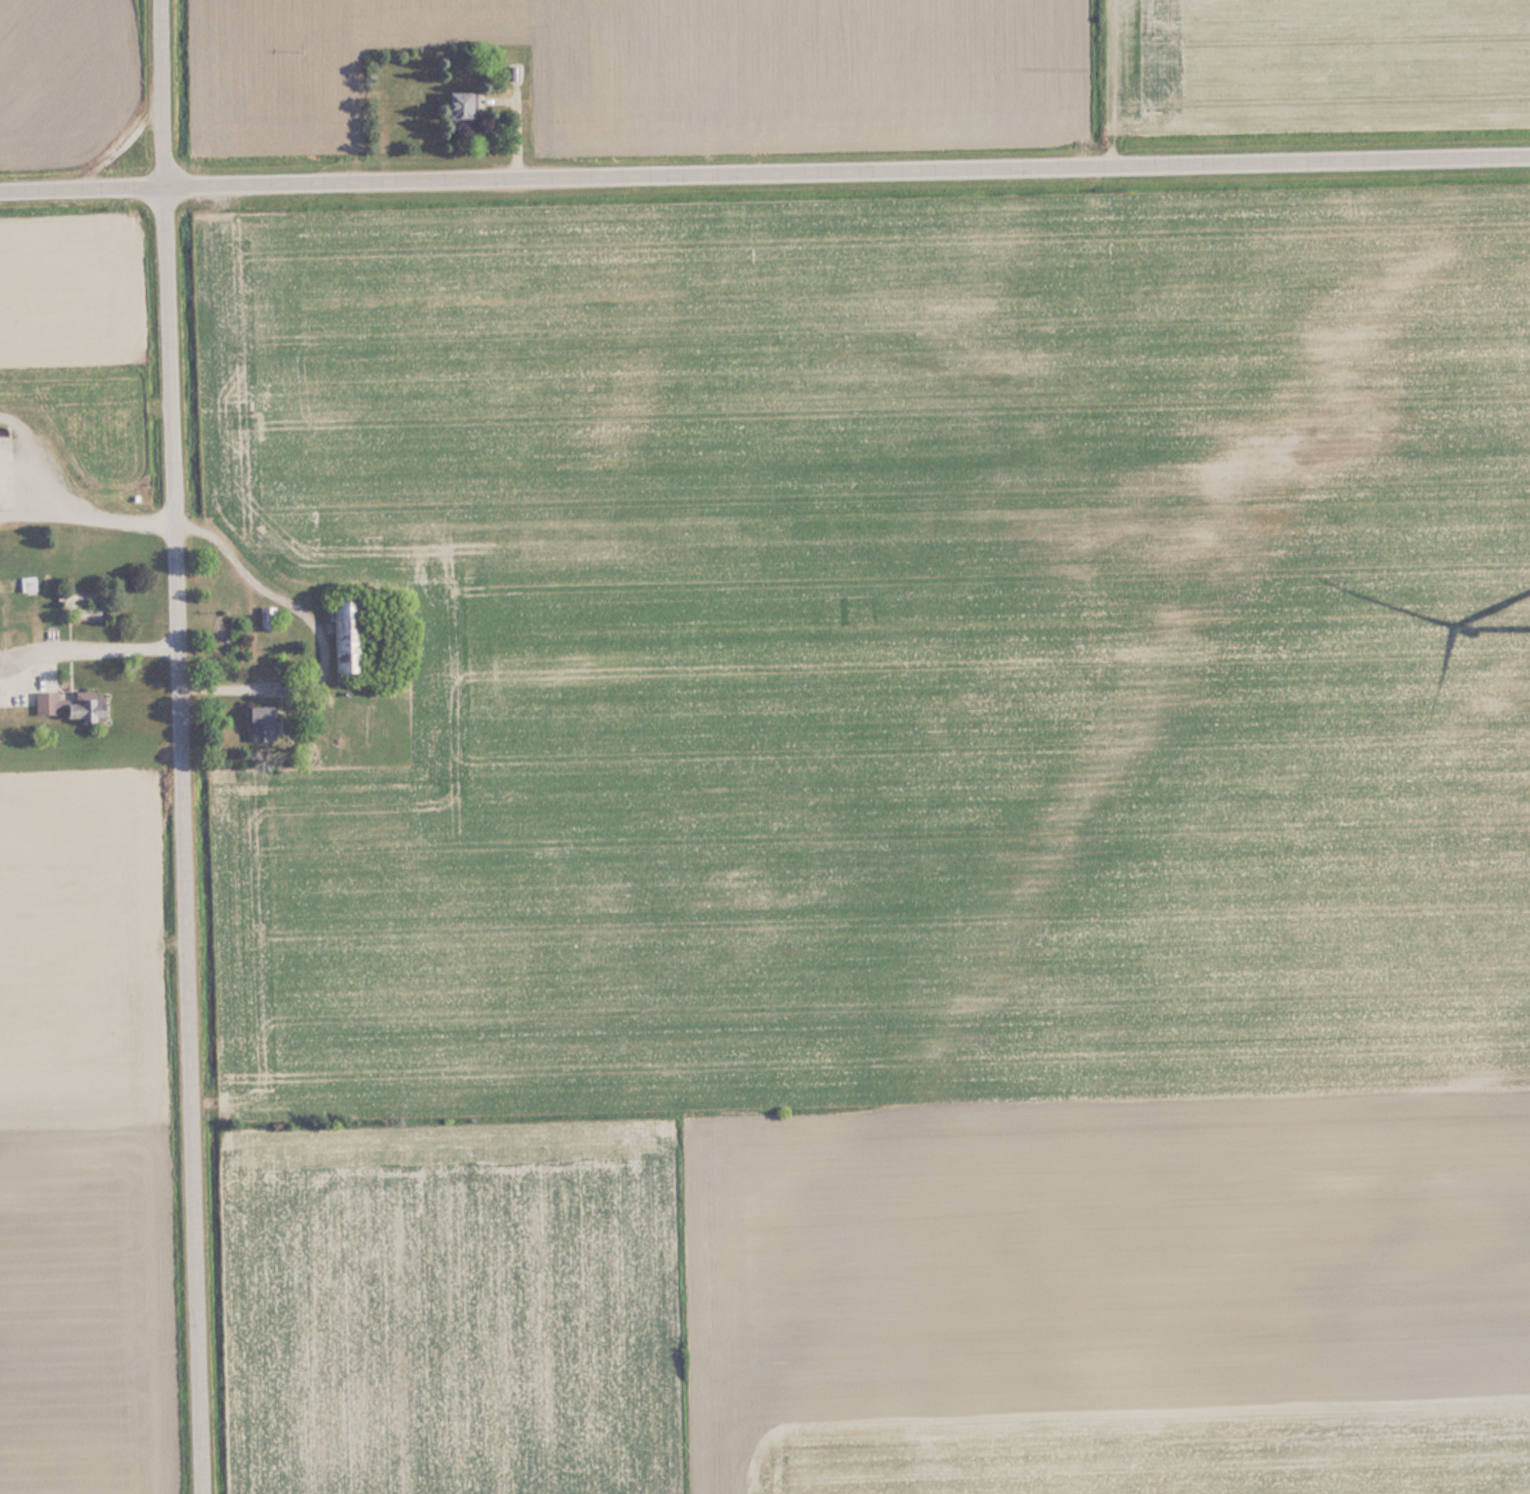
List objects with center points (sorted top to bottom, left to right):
building: (512, 68)
building: (454, 106)
road: (764, 170)
building: (0, 431)
building: (31, 583)
building: (270, 618)
building: (54, 702)
building: (92, 707)
building: (266, 723)
road: (180, 747)

